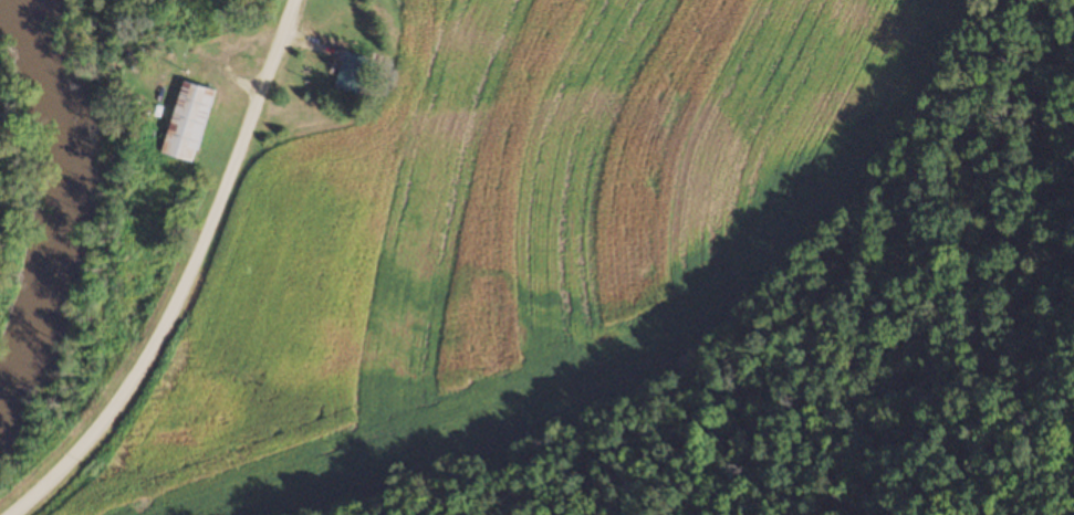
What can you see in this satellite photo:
building: (351, 73)
building: (186, 122)
river: (69, 204)
road: (210, 283)

